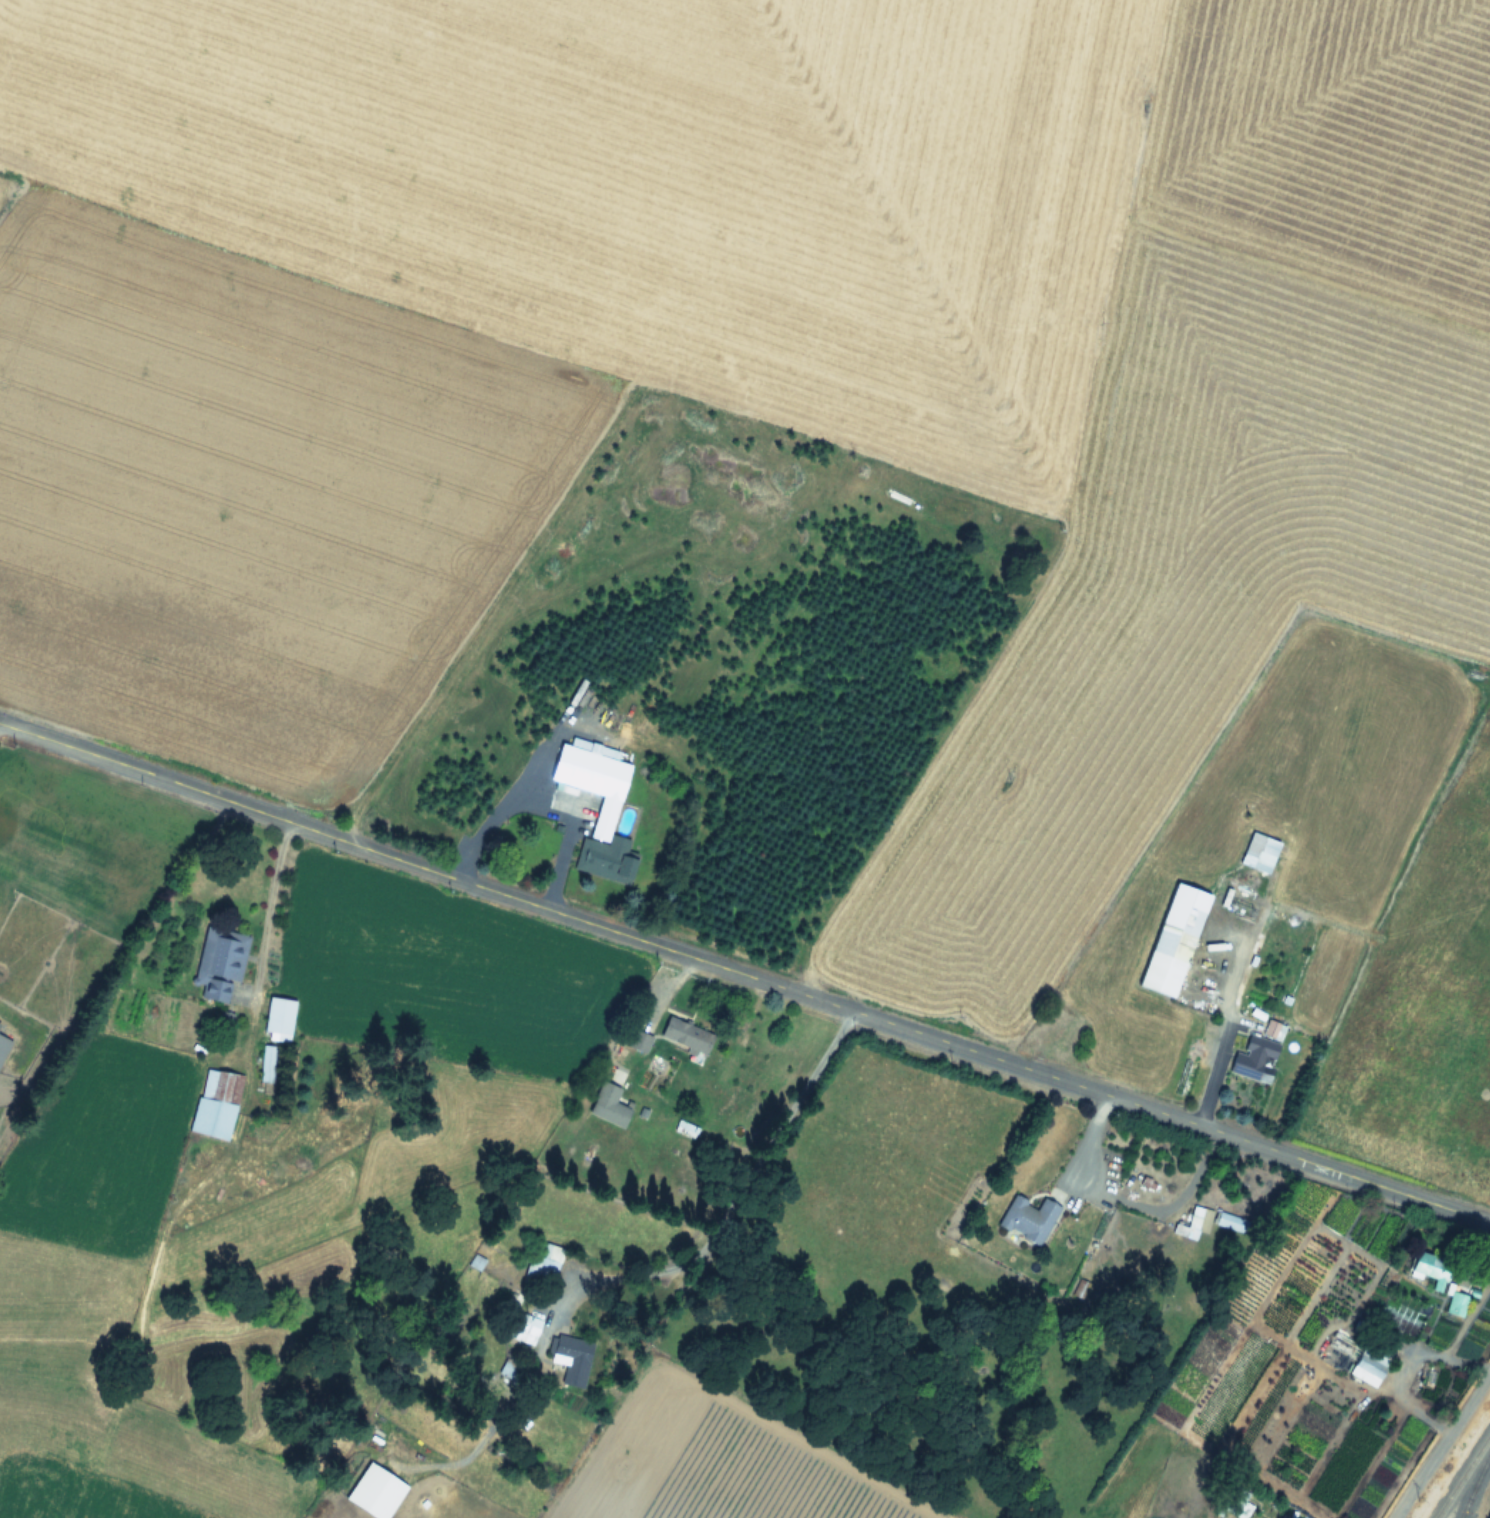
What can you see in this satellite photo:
crop: (809, 486)
road: (519, 784)
building: (605, 815)
road: (530, 816)
building: (1259, 853)
road: (271, 897)
building: (1174, 941)
building: (218, 963)
road: (744, 973)
building: (278, 1019)
building: (1272, 1029)
road: (1222, 1031)
building: (685, 1035)
building: (639, 1041)
building: (3, 1045)
building: (1255, 1059)
building: (215, 1104)
building: (685, 1129)
road: (746, 1178)
road: (1125, 1201)
building: (1027, 1220)
building: (1231, 1222)
building: (1188, 1223)
crop: (622, 1233)
building: (543, 1264)
building: (1430, 1269)
building: (470, 1272)
building: (1456, 1305)
building: (515, 1312)
building: (565, 1358)
building: (1360, 1360)
building: (511, 1369)
road: (1442, 1445)
railway: (1462, 1475)
railway: (1474, 1485)
building: (1231, 1499)
crop: (1489, 1516)

